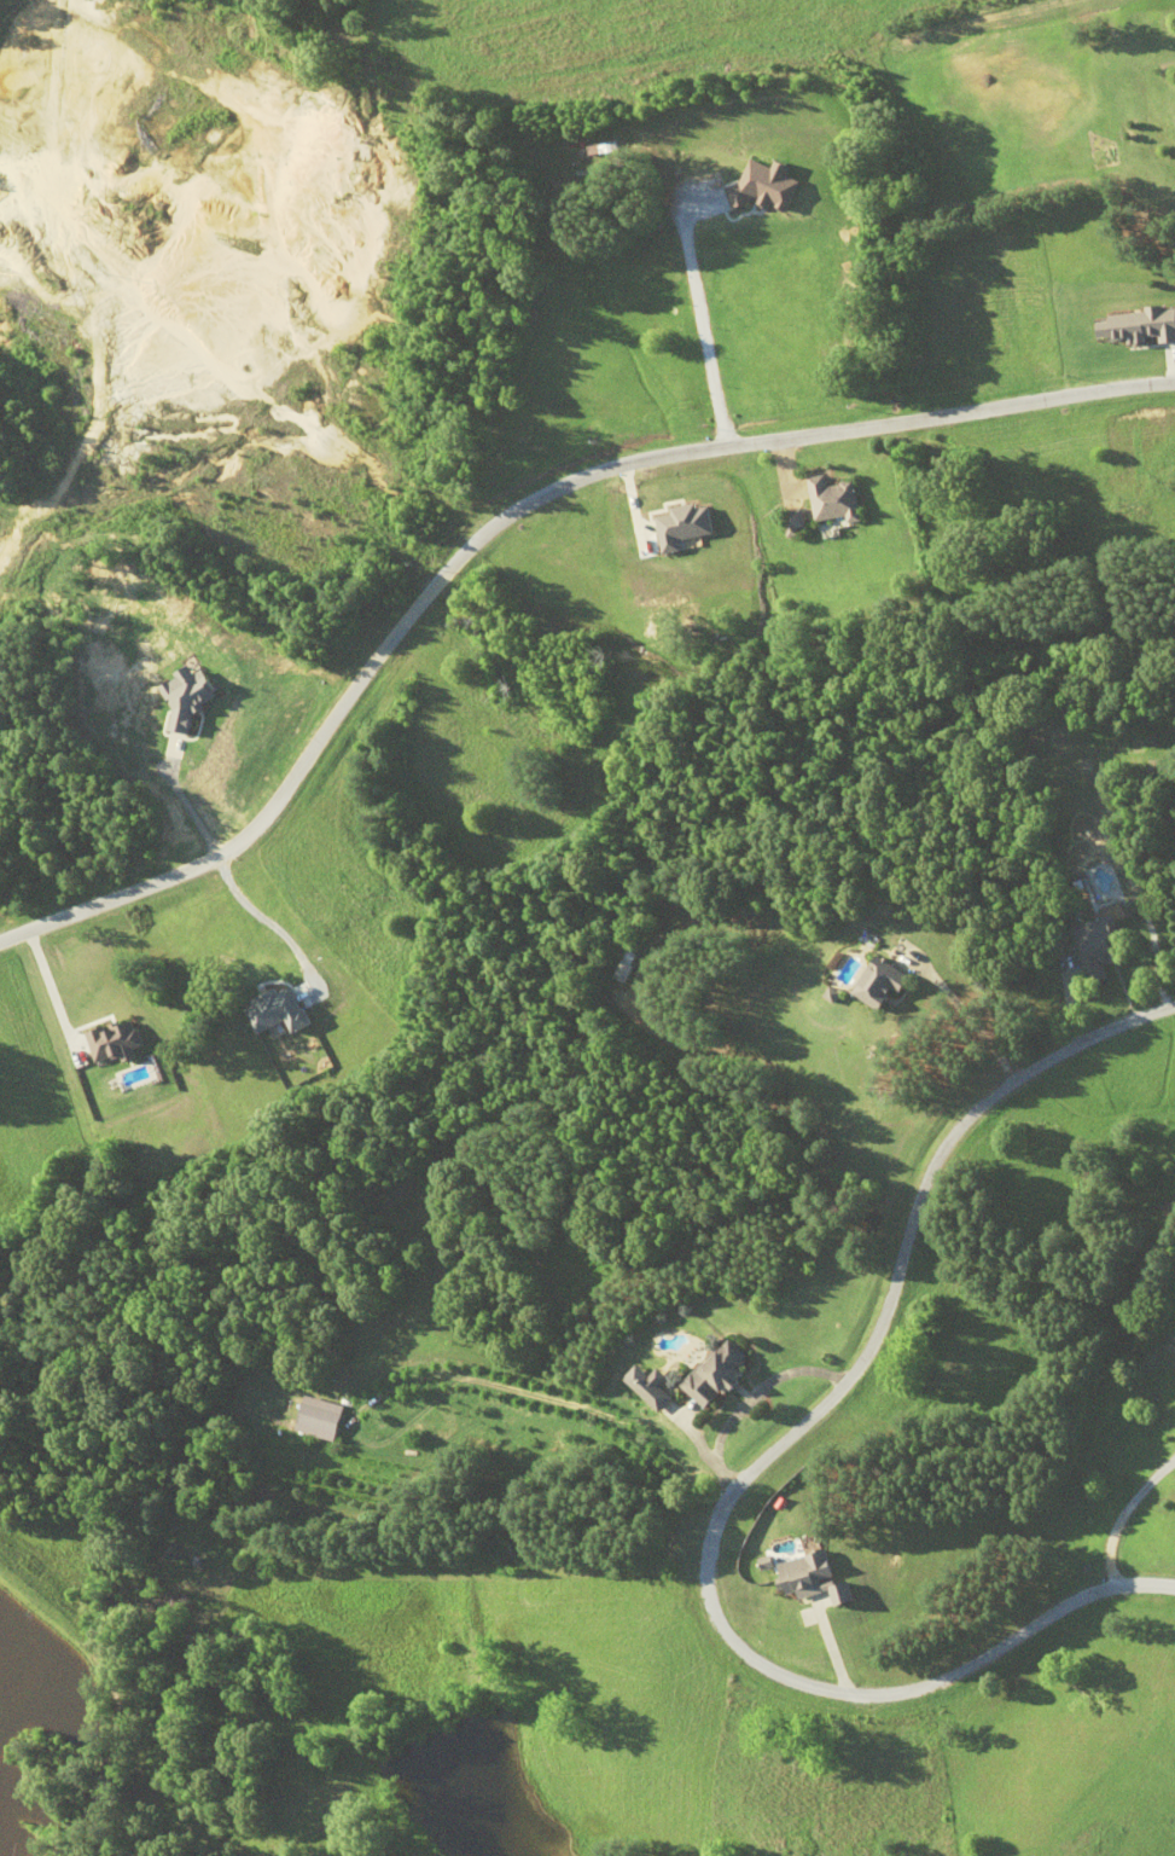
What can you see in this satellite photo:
road: (697, 309)
building: (830, 499)
road: (505, 510)
building: (792, 521)
building: (1098, 950)
building: (883, 985)
building: (719, 1373)
building: (657, 1388)
road: (748, 1477)

